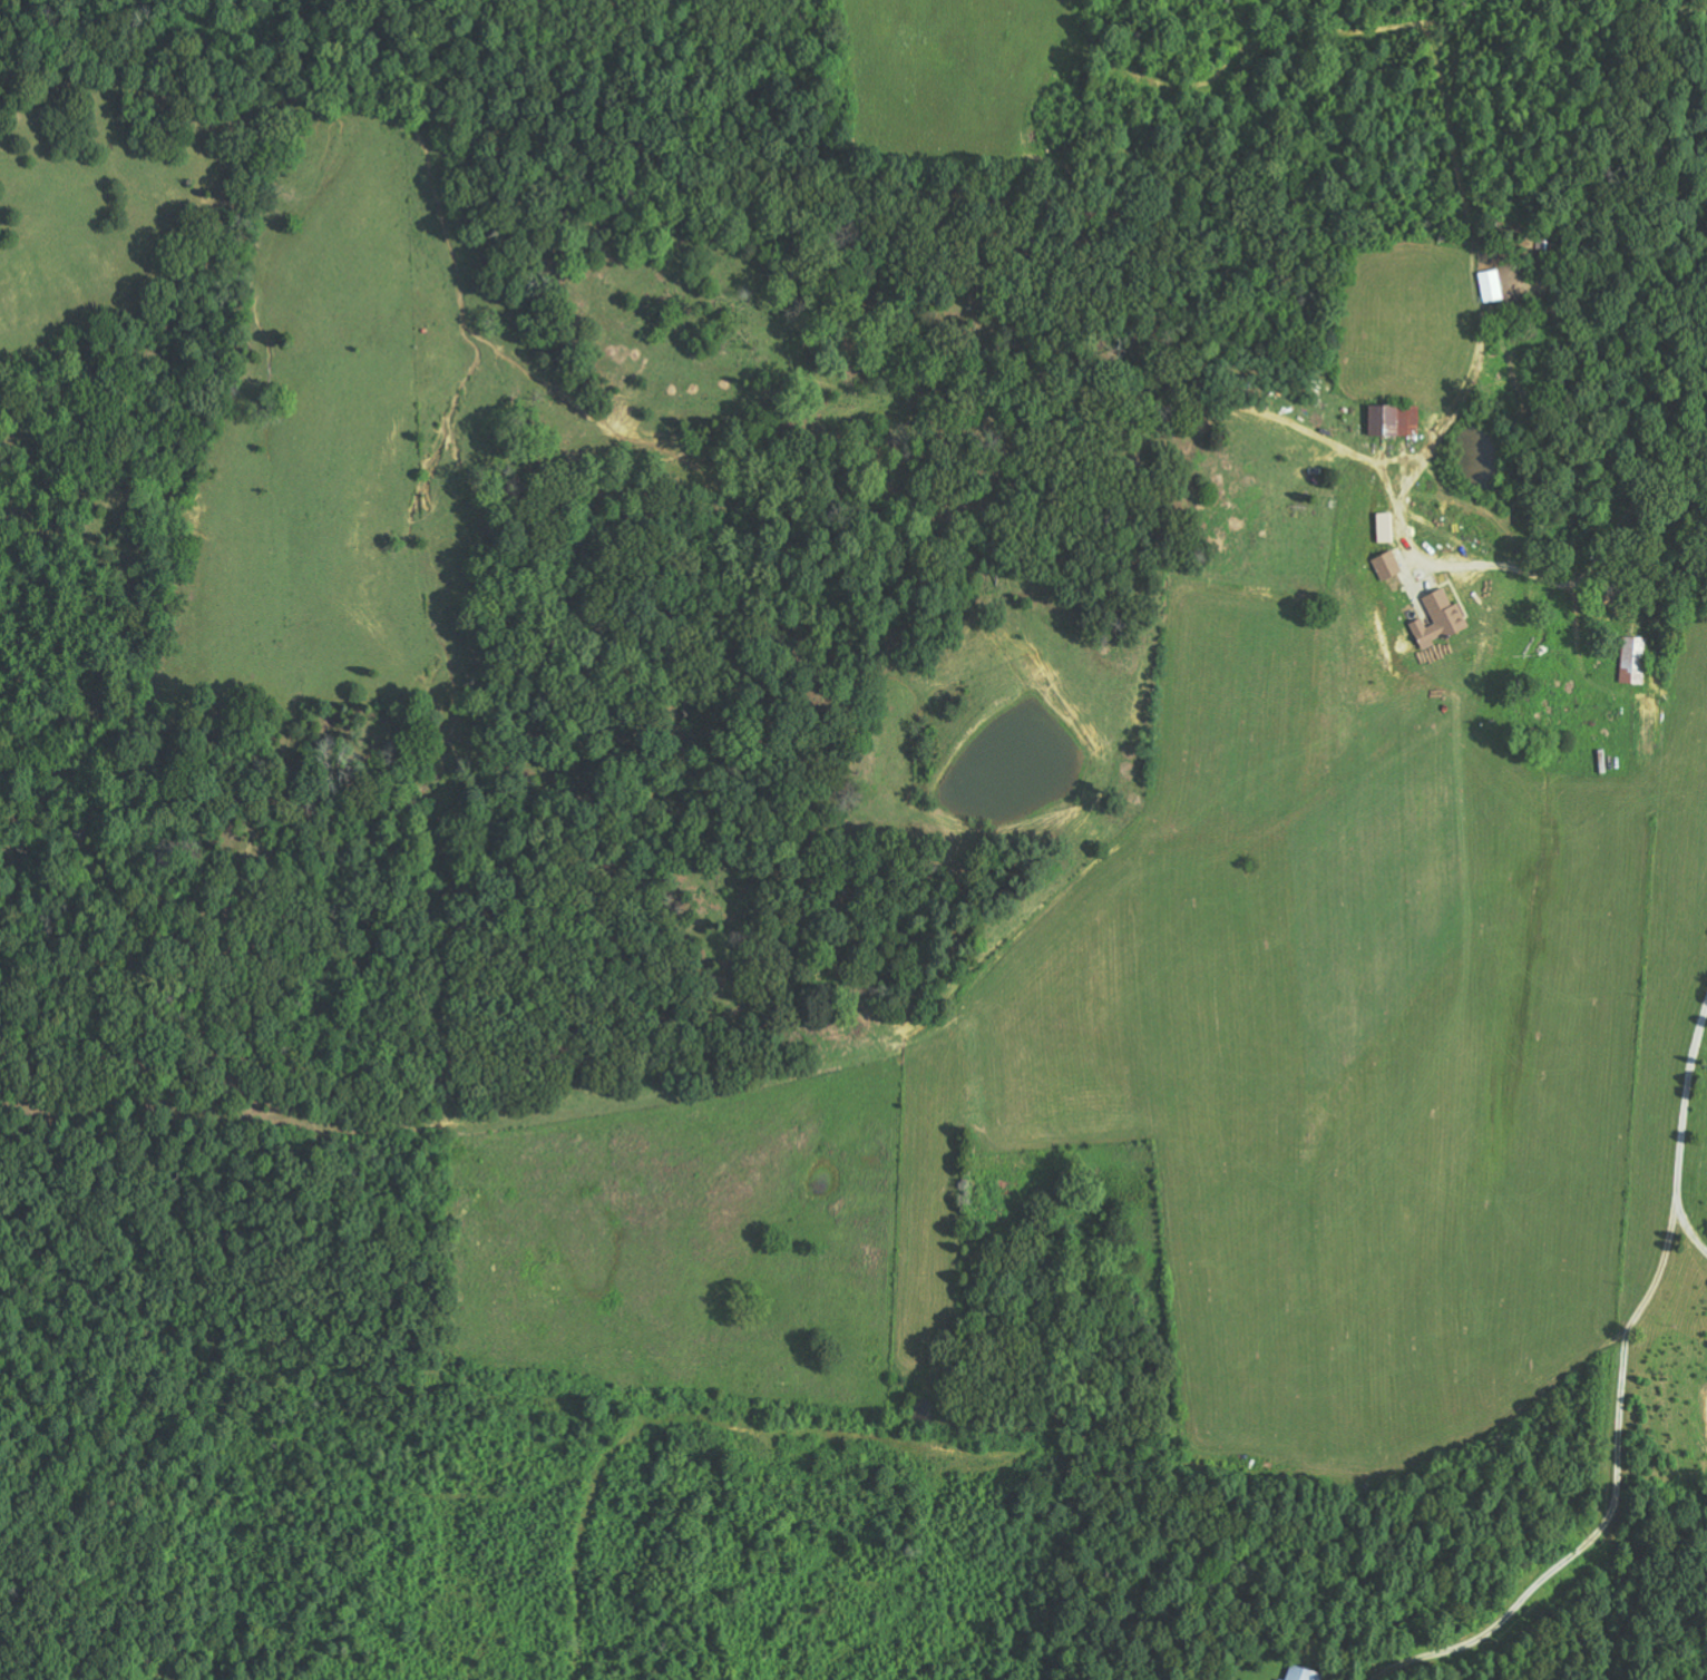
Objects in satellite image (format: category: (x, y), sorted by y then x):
building: (1492, 286)
building: (1396, 420)
building: (1388, 565)
building: (1441, 618)
building: (1635, 660)
road: (1694, 1217)
road: (1628, 1413)
building: (1304, 1674)
building: (1281, 1679)

